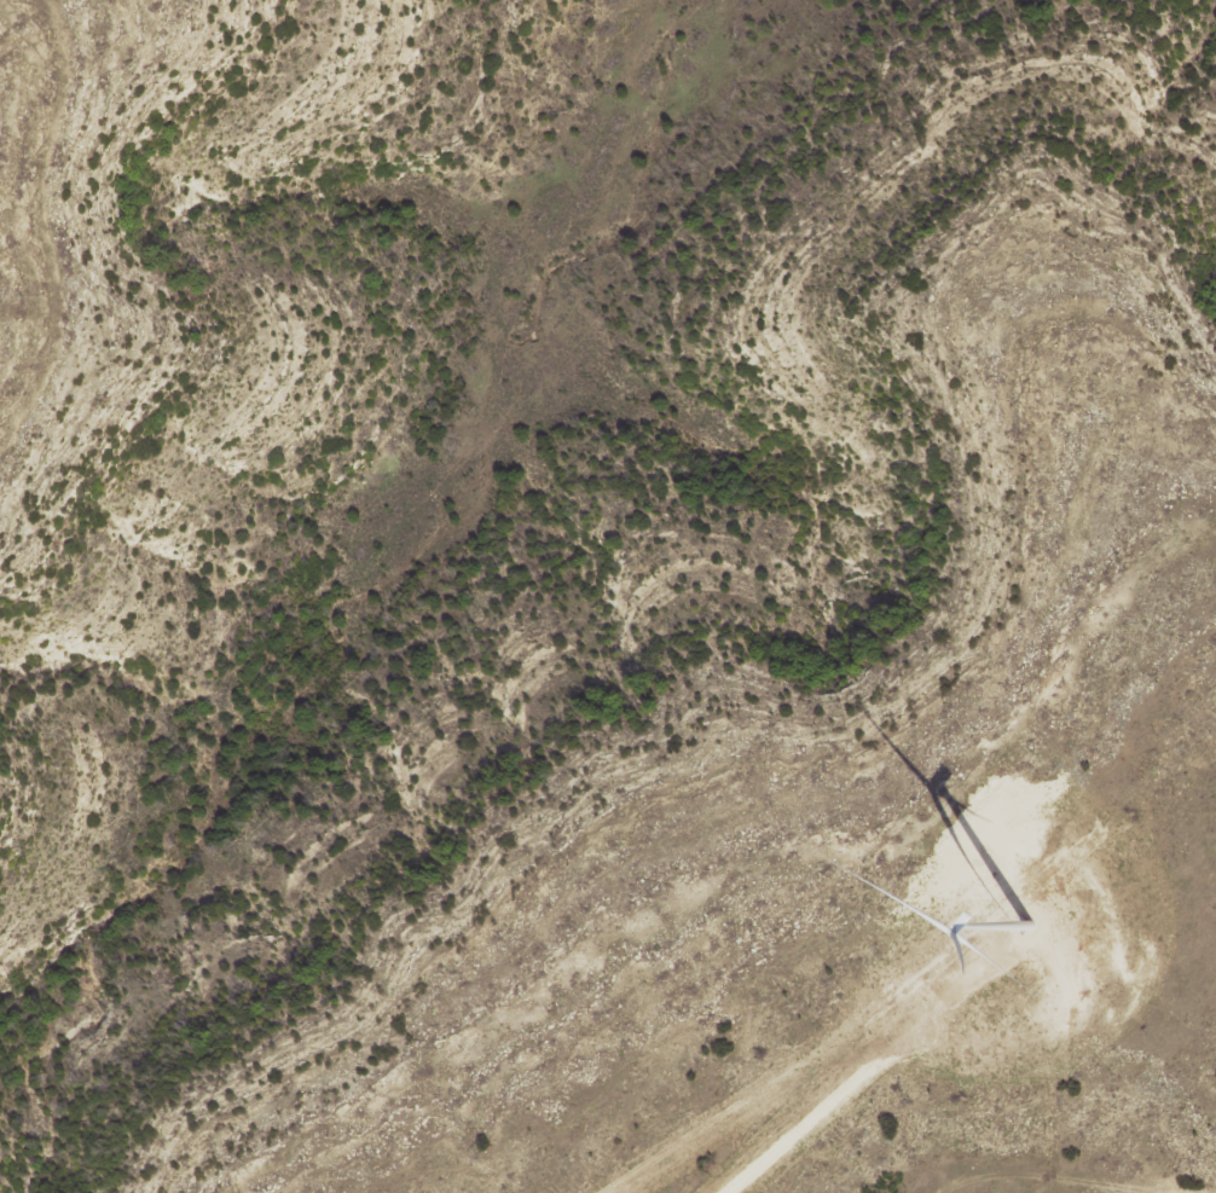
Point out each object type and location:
wind turbine: (1024, 922)

